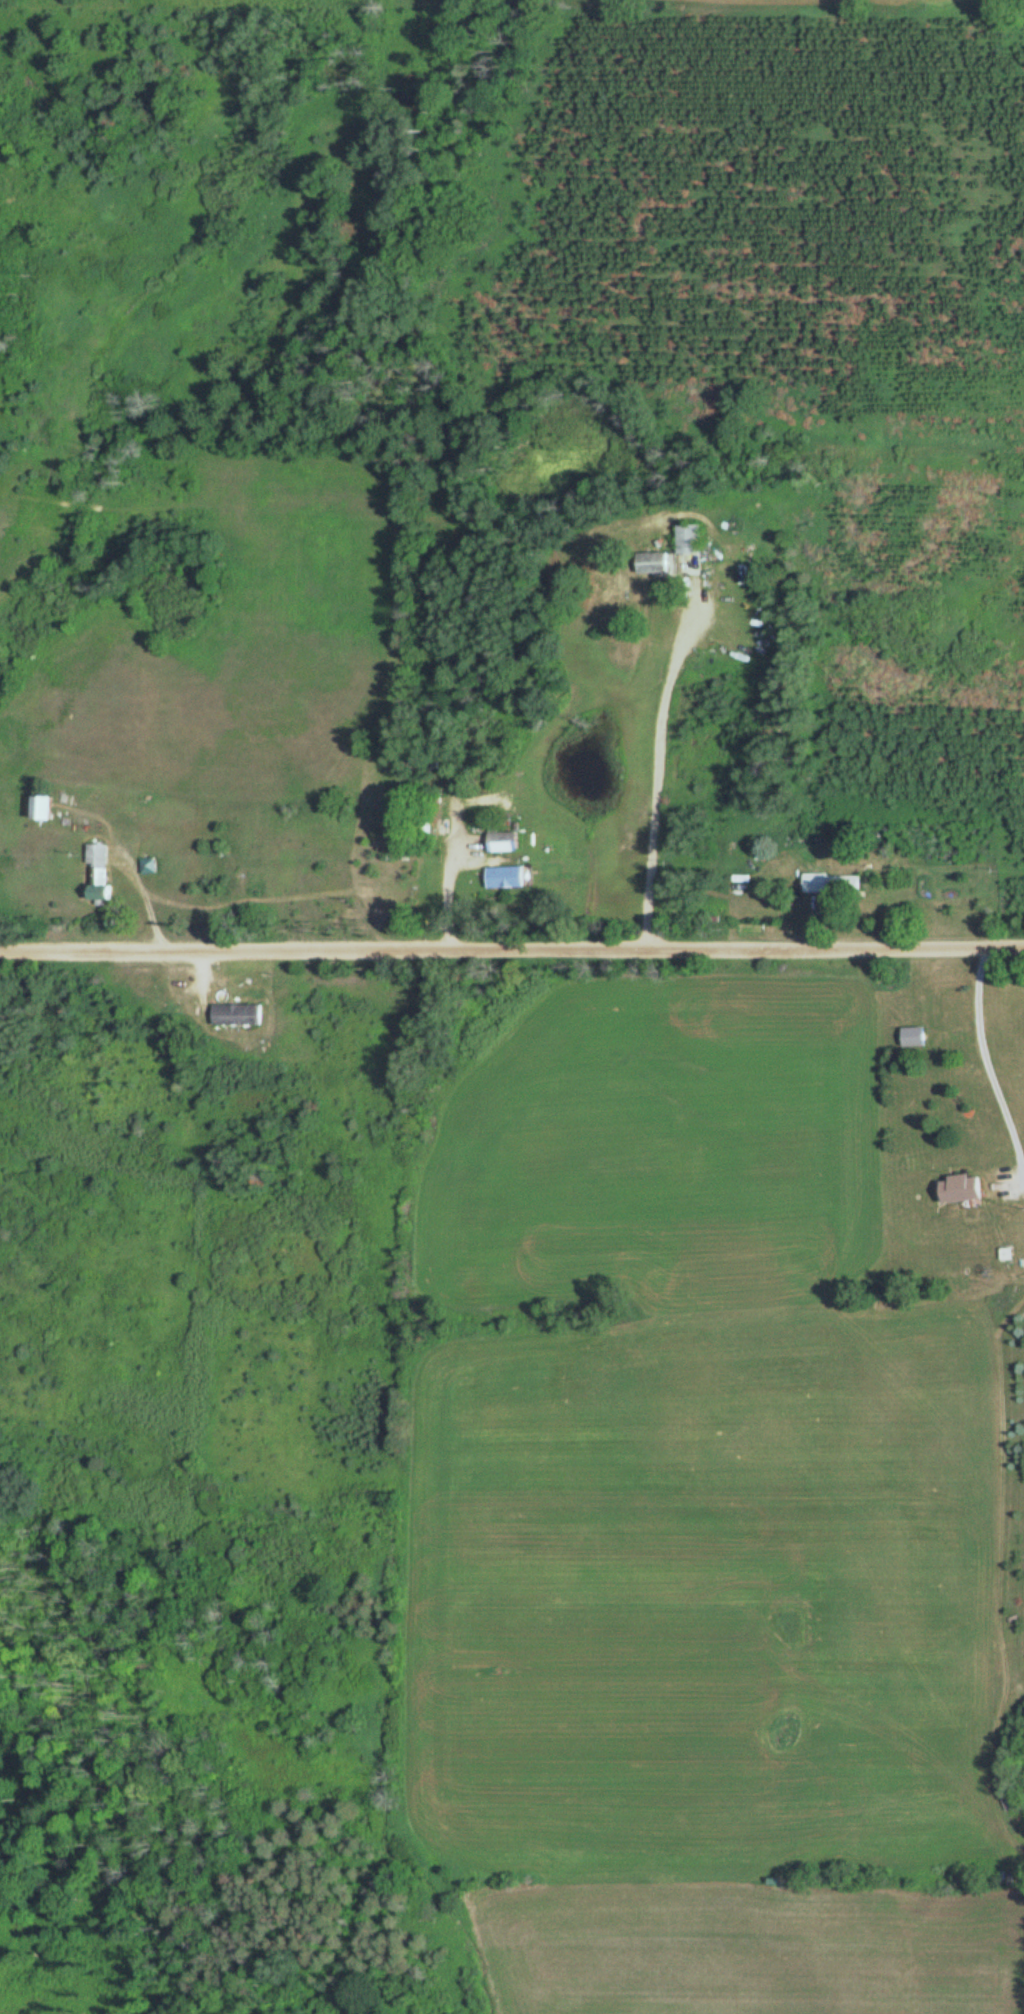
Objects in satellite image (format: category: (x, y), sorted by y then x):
building: (691, 539)
building: (657, 562)
building: (47, 808)
building: (506, 841)
building: (152, 867)
building: (103, 874)
building: (508, 878)
building: (827, 883)
road: (512, 960)
building: (239, 1015)
building: (916, 1036)
building: (965, 1189)

